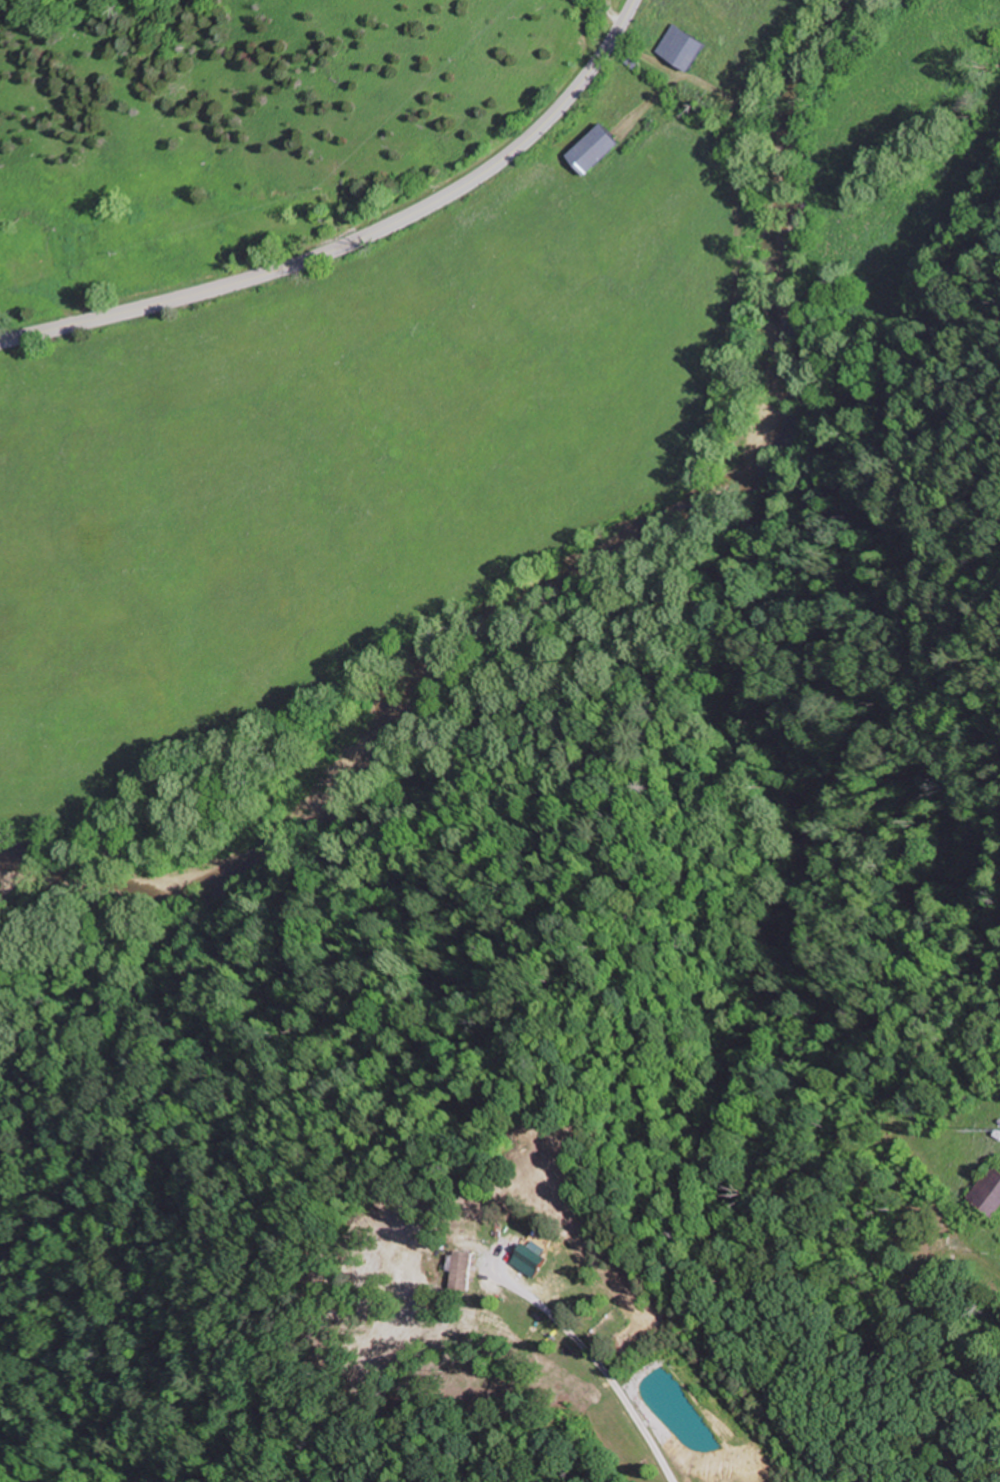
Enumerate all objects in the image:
building: (686, 47)
building: (600, 149)
road: (357, 239)
building: (991, 1189)
building: (943, 1244)
building: (466, 1270)
road: (598, 1363)

